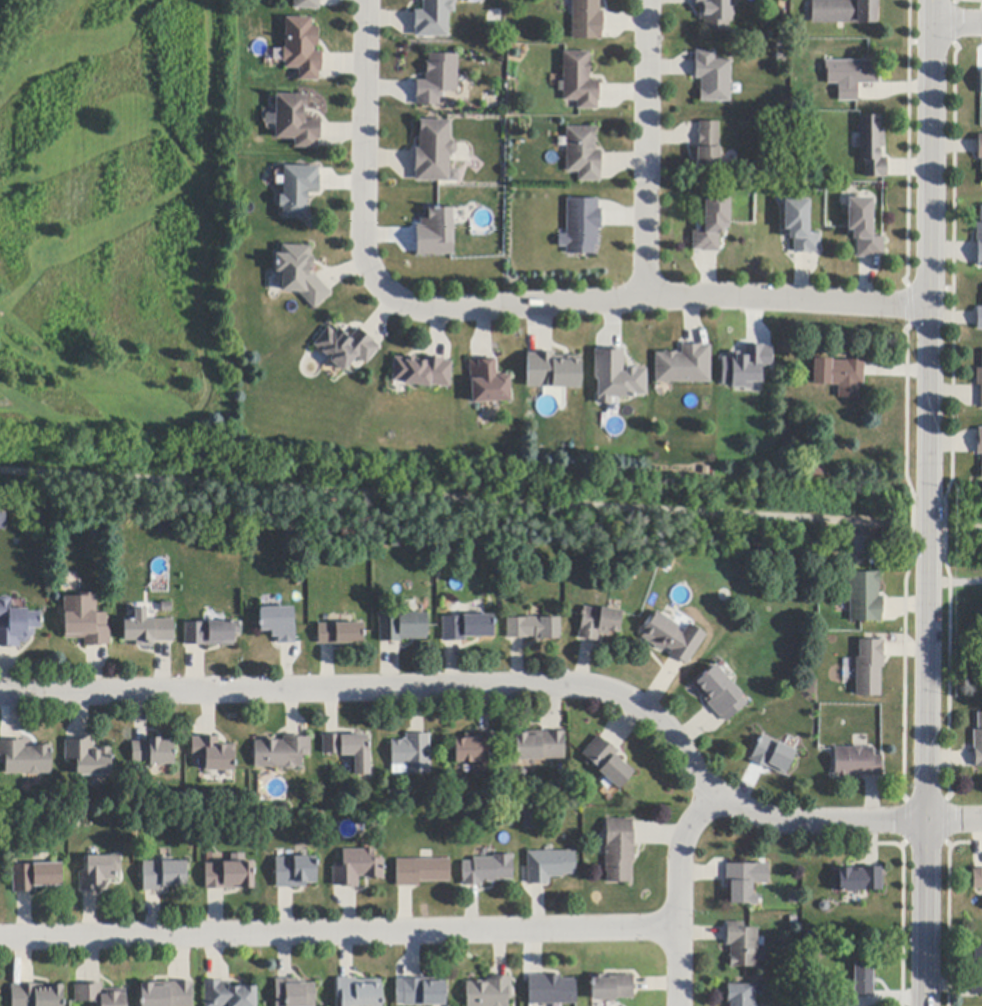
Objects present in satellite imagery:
building: (307, 4)
building: (843, 12)
building: (715, 14)
building: (434, 18)
building: (586, 20)
road: (958, 23)
building: (302, 48)
building: (713, 77)
building: (850, 77)
building: (438, 79)
building: (579, 81)
building: (981, 82)
building: (295, 121)
building: (871, 147)
road: (646, 149)
building: (707, 149)
building: (980, 149)
building: (434, 151)
building: (583, 154)
building: (298, 190)
building: (713, 221)
building: (581, 226)
building: (799, 227)
park: (113, 229)
building: (863, 229)
building: (435, 233)
road: (930, 236)
building: (979, 241)
building: (299, 274)
road: (505, 306)
building: (979, 319)
building: (346, 347)
building: (684, 365)
building: (747, 367)
building: (553, 370)
building: (422, 371)
building: (839, 375)
building: (616, 377)
building: (488, 382)
building: (979, 383)
building: (979, 442)
building: (817, 471)
building: (981, 474)
road: (491, 500)
road: (926, 517)
building: (2, 521)
road: (954, 583)
building: (865, 597)
building: (85, 621)
building: (598, 623)
building: (279, 624)
building: (16, 625)
building: (402, 627)
building: (467, 627)
building: (533, 628)
building: (147, 630)
building: (211, 633)
building: (340, 633)
building: (673, 638)
building: (869, 668)
road: (516, 683)
building: (720, 694)
building: (978, 744)
building: (539, 746)
building: (350, 750)
building: (475, 751)
building: (154, 752)
building: (281, 752)
building: (214, 754)
building: (411, 755)
building: (772, 755)
building: (26, 758)
building: (89, 758)
building: (607, 762)
building: (856, 762)
road: (927, 784)
building: (508, 818)
building: (530, 820)
building: (619, 850)
building: (549, 866)
building: (358, 868)
building: (487, 869)
building: (100, 872)
building: (295, 872)
building: (422, 872)
building: (163, 874)
building: (230, 876)
building: (36, 877)
building: (976, 879)
building: (858, 880)
building: (741, 882)
road: (678, 894)
road: (339, 930)
building: (741, 945)
building: (976, 972)
building: (863, 980)
building: (612, 988)
building: (551, 990)
building: (359, 992)
building: (424, 992)
building: (489, 992)
building: (295, 993)
building: (167, 994)
building: (228, 994)
building: (37, 995)
building: (100, 995)
building: (741, 995)
building: (840, 999)

